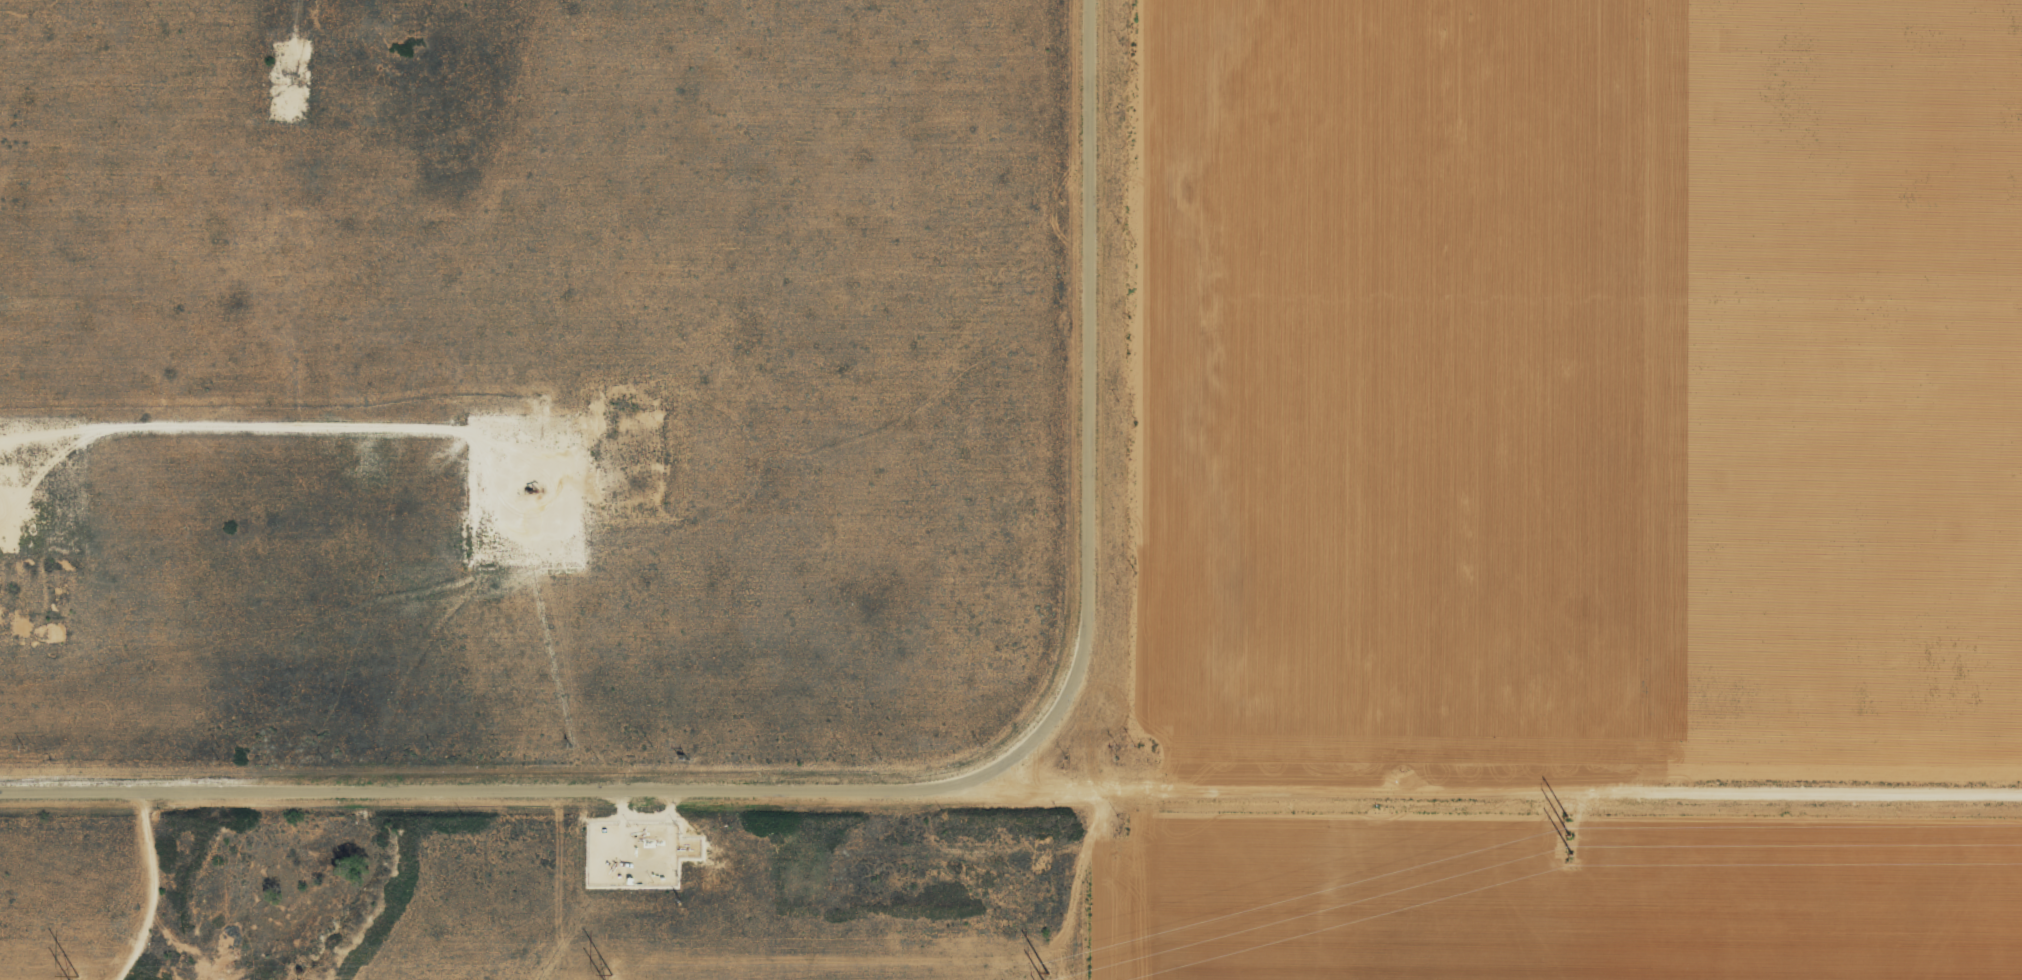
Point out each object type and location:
road: (1070, 399)
road: (1010, 769)
power tower: (1560, 829)
road: (148, 886)
power tower: (65, 967)
power tower: (604, 968)
power tower: (1038, 973)

